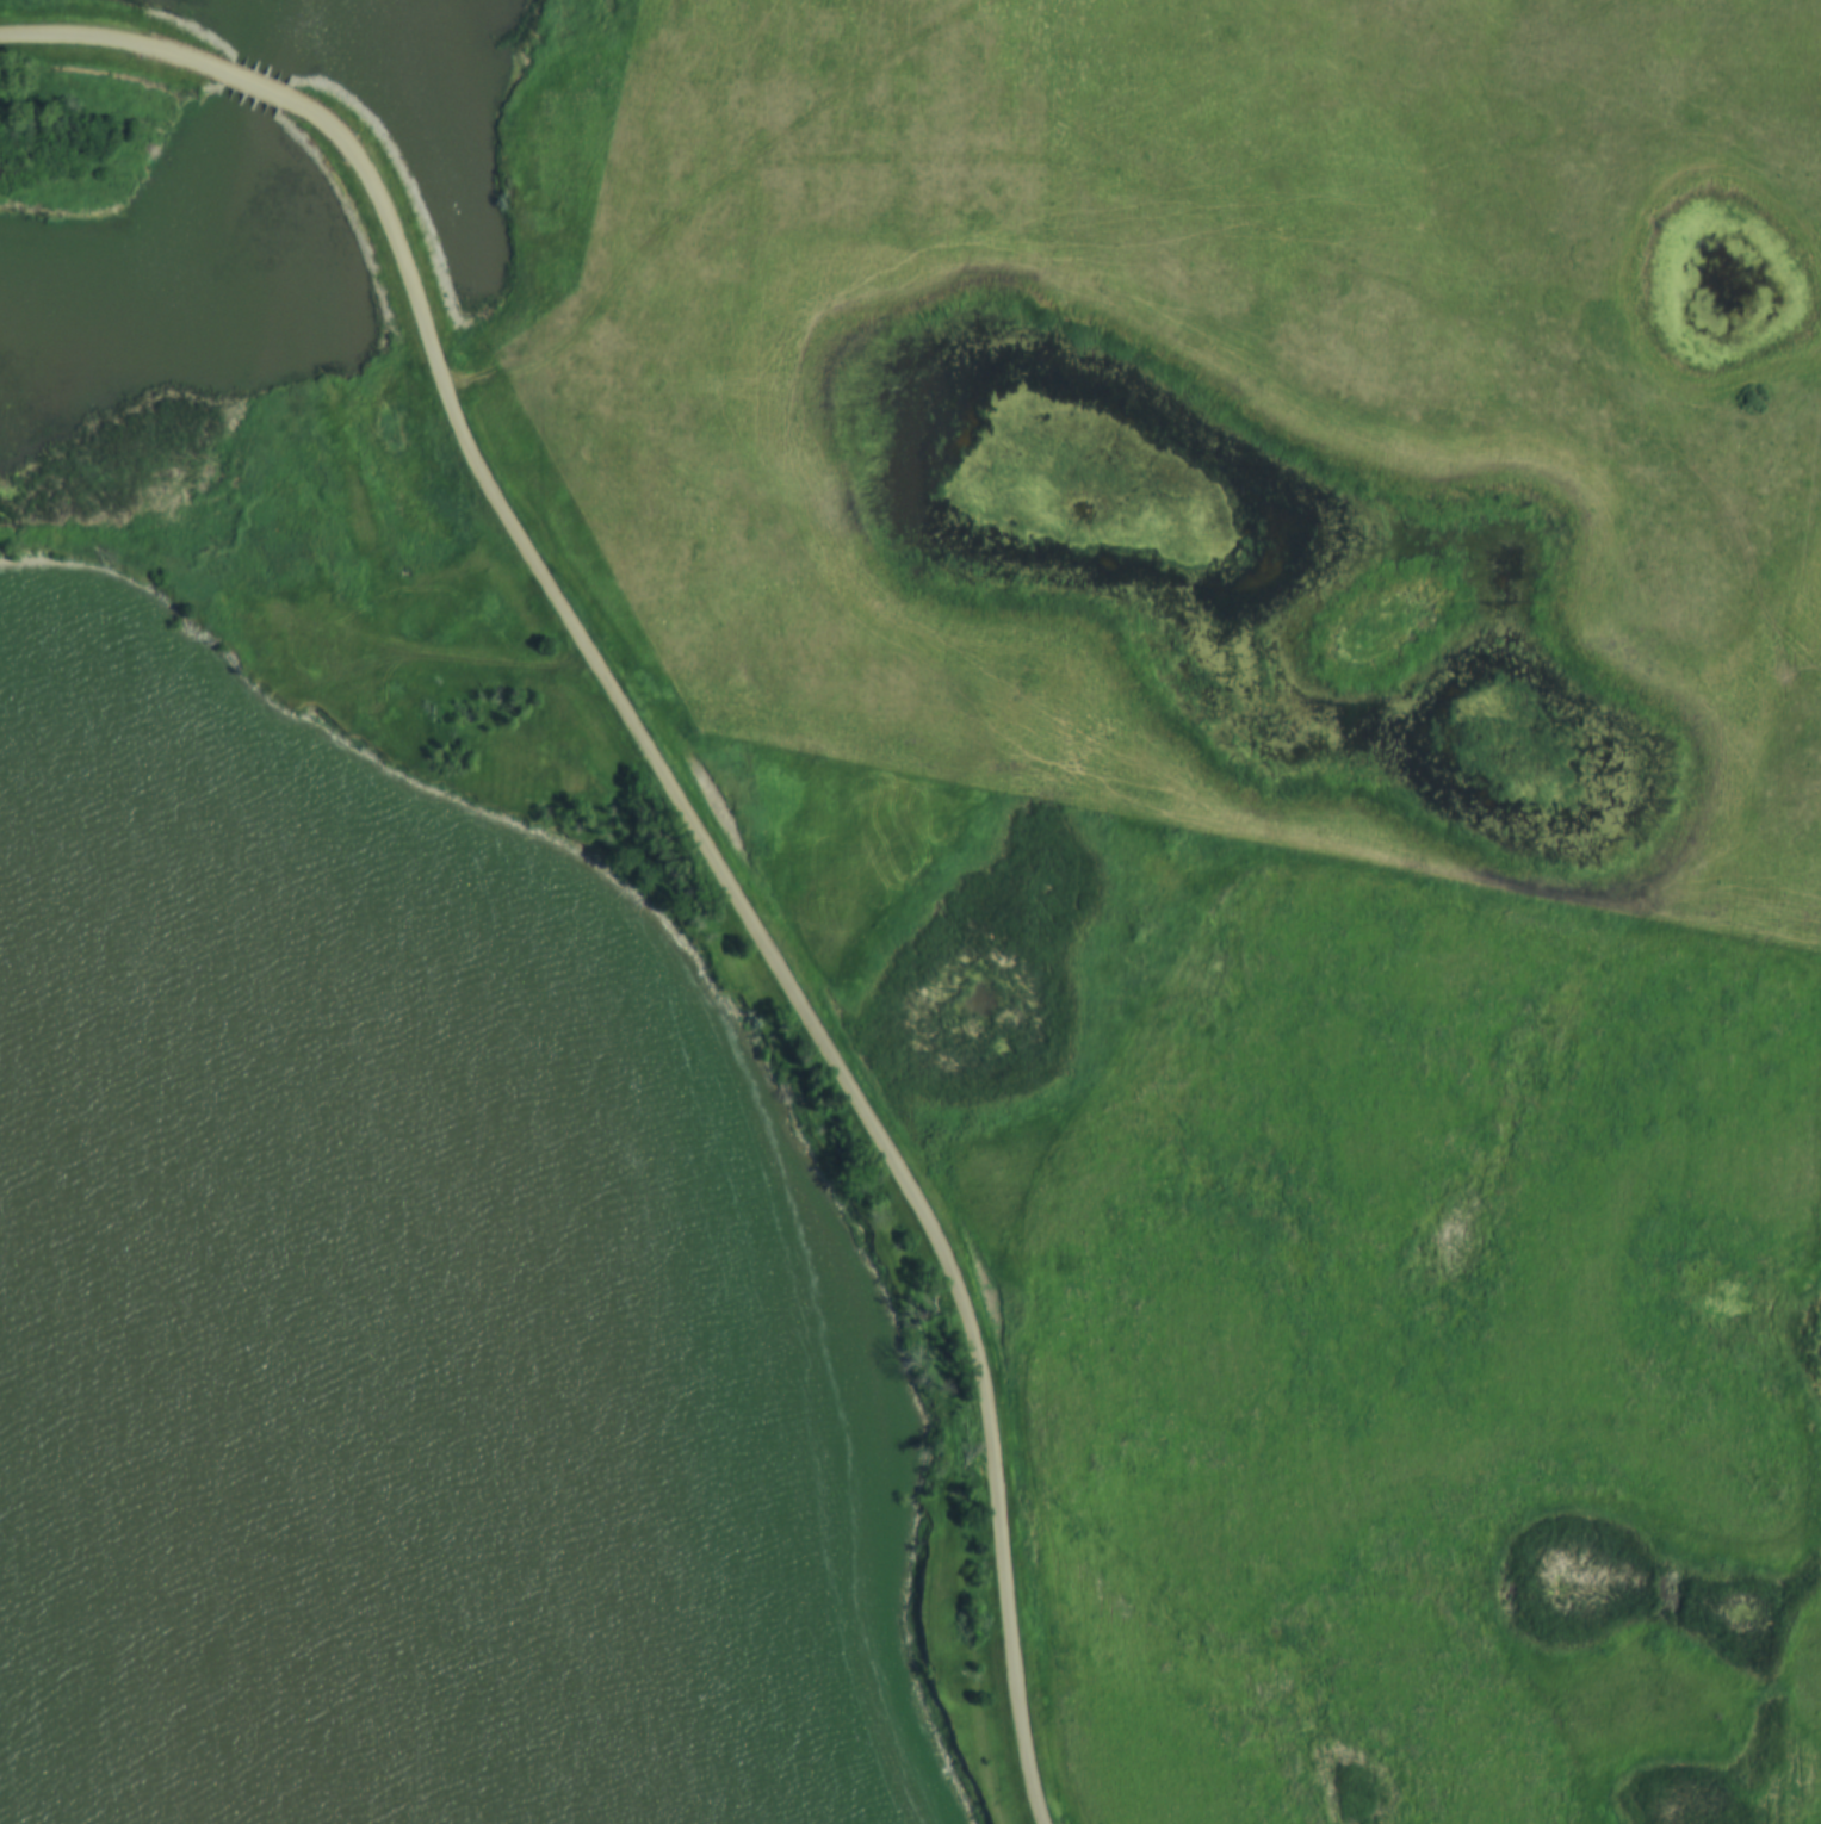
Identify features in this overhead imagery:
road: (114, 46)
road: (253, 93)
river: (197, 207)
road: (755, 923)
river: (86, 1141)
river: (75, 1370)

